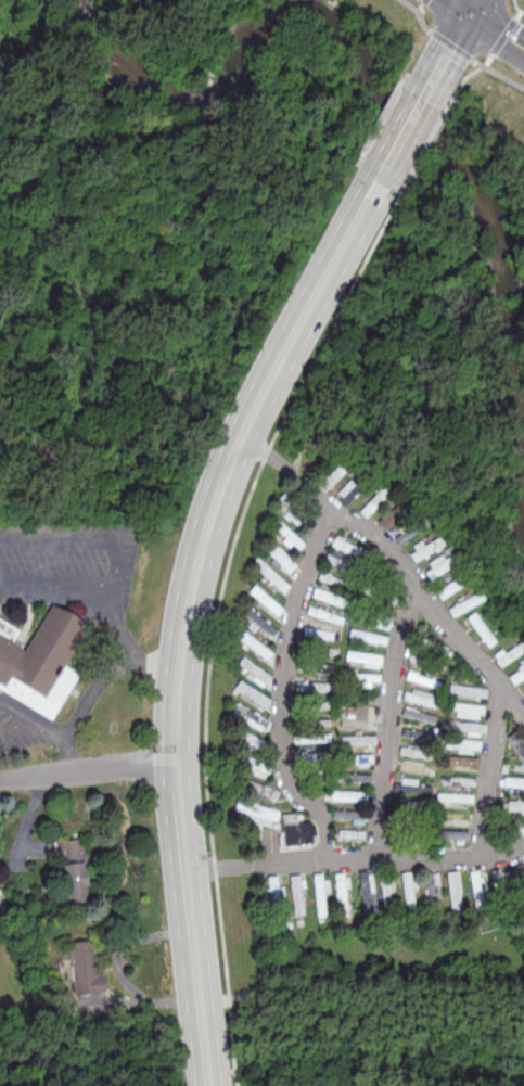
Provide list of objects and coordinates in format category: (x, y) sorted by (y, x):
road: (459, 5)
road: (472, 5)
road: (516, 5)
traffic signals: (469, 12)
road: (519, 14)
river: (290, 18)
road: (496, 30)
road: (502, 37)
road: (456, 50)
road: (444, 54)
road: (480, 69)
river: (177, 101)
river: (434, 131)
road: (402, 132)
road: (432, 137)
road: (370, 191)
park: (268, 250)
river: (521, 436)
road: (267, 459)
building: (332, 476)
building: (347, 491)
building: (374, 500)
building: (295, 512)
building: (394, 513)
building: (285, 534)
building: (346, 546)
building: (426, 547)
building: (279, 557)
building: (439, 564)
building: (269, 574)
building: (334, 580)
road: (53, 584)
building: (451, 586)
road: (414, 590)
building: (329, 597)
building: (265, 600)
building: (464, 603)
building: (361, 612)
building: (324, 614)
road: (217, 622)
building: (259, 623)
road: (118, 626)
building: (480, 628)
road: (181, 633)
building: (319, 633)
building: (367, 636)
building: (256, 646)
building: (323, 650)
building: (509, 652)
building: (362, 659)
building: (41, 660)
building: (316, 666)
building: (253, 670)
building: (516, 674)
road: (107, 676)
building: (361, 678)
building: (423, 678)
road: (285, 683)
building: (467, 690)
building: (252, 693)
building: (421, 698)
building: (464, 710)
road: (18, 711)
building: (359, 713)
building: (419, 715)
building: (248, 716)
road: (33, 725)
road: (385, 726)
building: (465, 728)
building: (421, 734)
building: (311, 737)
building: (358, 739)
building: (251, 741)
building: (461, 744)
building: (516, 744)
building: (417, 752)
road: (67, 754)
building: (356, 759)
building: (461, 761)
building: (254, 766)
building: (414, 768)
road: (86, 770)
road: (490, 772)
building: (350, 777)
building: (457, 781)
building: (514, 784)
building: (412, 785)
building: (259, 790)
building: (347, 795)
building: (455, 797)
building: (514, 806)
building: (258, 814)
building: (348, 816)
building: (455, 818)
building: (512, 826)
building: (294, 830)
building: (349, 833)
building: (450, 835)
road: (389, 863)
building: (74, 869)
road: (219, 870)
building: (520, 872)
building: (501, 885)
building: (432, 889)
building: (476, 889)
building: (408, 890)
building: (366, 891)
building: (453, 891)
building: (274, 892)
building: (296, 894)
building: (341, 894)
building: (320, 895)
building: (84, 967)

